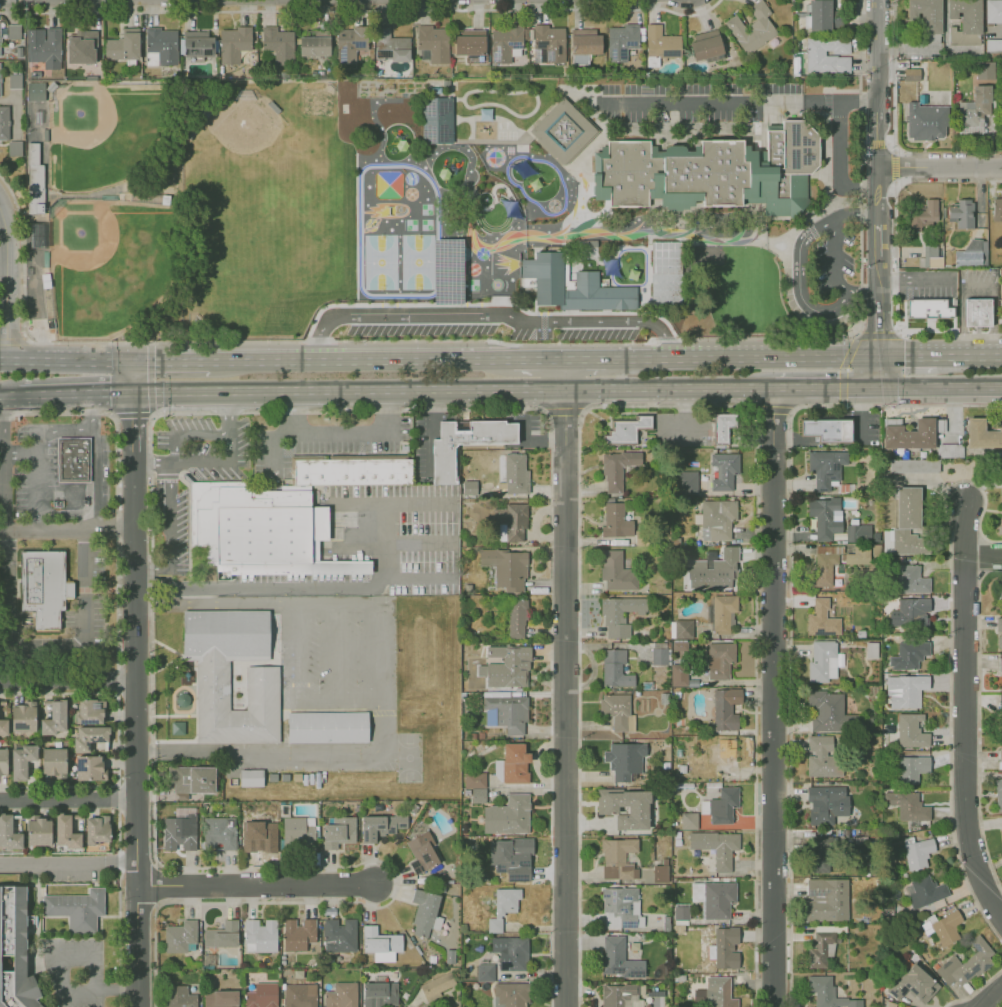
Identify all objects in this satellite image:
road: (375, 10)
building: (993, 12)
building: (821, 16)
building: (965, 21)
building: (925, 22)
building: (753, 28)
building: (15, 32)
building: (1, 41)
building: (624, 41)
building: (548, 43)
building: (235, 44)
building: (255, 44)
building: (314, 44)
building: (351, 44)
building: (434, 44)
building: (508, 44)
building: (279, 45)
building: (585, 45)
building: (661, 45)
building: (124, 46)
building: (198, 46)
building: (391, 46)
building: (472, 46)
building: (994, 46)
building: (45, 47)
building: (81, 47)
building: (161, 47)
building: (709, 47)
building: (0, 55)
building: (822, 56)
building: (984, 73)
building: (285, 74)
building: (648, 74)
building: (176, 75)
building: (185, 75)
building: (911, 75)
road: (895, 76)
building: (91, 78)
building: (1, 80)
building: (15, 82)
building: (445, 84)
building: (35, 91)
road: (701, 103)
road: (838, 103)
road: (876, 107)
building: (978, 113)
building: (436, 119)
building: (929, 122)
building: (4, 123)
park: (106, 131)
building: (563, 131)
road: (860, 145)
building: (14, 148)
road: (895, 161)
road: (839, 164)
road: (939, 167)
building: (34, 171)
building: (710, 171)
building: (997, 209)
building: (961, 213)
building: (924, 215)
road: (3, 217)
road: (878, 233)
building: (972, 253)
building: (706, 254)
building: (930, 257)
park: (112, 262)
road: (833, 262)
road: (4, 265)
road: (799, 271)
building: (667, 274)
road: (878, 274)
road: (916, 278)
road: (7, 281)
building: (548, 282)
road: (976, 288)
building: (1000, 299)
building: (927, 308)
building: (977, 312)
road: (489, 314)
traffic signals: (880, 331)
road: (880, 341)
road: (969, 357)
traffic signals: (904, 358)
road: (908, 358)
road: (742, 359)
road: (539, 360)
road: (586, 360)
road: (359, 361)
road: (65, 362)
traffic signals: (154, 363)
road: (170, 363)
road: (132, 377)
road: (941, 386)
road: (826, 387)
traffic signals: (841, 387)
road: (451, 389)
traffic signals: (110, 392)
road: (75, 393)
road: (9, 394)
road: (229, 412)
road: (685, 416)
traffic signals: (132, 419)
road: (0, 424)
road: (131, 427)
building: (625, 428)
building: (724, 429)
building: (826, 429)
road: (54, 431)
road: (340, 432)
building: (982, 433)
road: (429, 434)
building: (909, 434)
road: (531, 442)
road: (0, 445)
road: (271, 445)
building: (948, 450)
road: (19, 454)
building: (444, 456)
building: (72, 459)
road: (96, 461)
road: (173, 463)
building: (1001, 464)
building: (913, 465)
building: (825, 467)
building: (351, 469)
building: (616, 469)
building: (723, 470)
building: (515, 474)
building: (685, 482)
building: (468, 487)
road: (1, 492)
road: (38, 492)
road: (90, 497)
road: (356, 504)
road: (173, 515)
building: (824, 516)
building: (716, 518)
building: (615, 520)
building: (908, 521)
building: (511, 522)
building: (999, 525)
road: (66, 530)
building: (261, 530)
building: (857, 533)
road: (415, 542)
building: (856, 555)
road: (982, 556)
building: (825, 566)
building: (506, 567)
building: (616, 571)
building: (713, 571)
road: (416, 577)
building: (910, 579)
building: (42, 586)
road: (334, 586)
building: (1000, 592)
road: (216, 603)
building: (722, 612)
building: (910, 612)
building: (618, 614)
building: (516, 618)
building: (821, 619)
building: (680, 629)
building: (998, 632)
road: (45, 643)
building: (911, 654)
building: (658, 655)
building: (719, 659)
building: (822, 661)
building: (1000, 664)
building: (507, 666)
building: (614, 668)
road: (299, 669)
road: (336, 670)
building: (678, 674)
road: (67, 680)
road: (566, 683)
building: (262, 687)
building: (905, 689)
road: (773, 697)
building: (725, 708)
building: (1000, 708)
building: (616, 709)
road: (374, 710)
building: (505, 710)
building: (89, 711)
building: (825, 711)
road: (963, 711)
building: (23, 717)
building: (54, 717)
building: (3, 726)
building: (327, 726)
building: (910, 730)
road: (134, 734)
building: (89, 737)
road: (183, 750)
building: (723, 755)
building: (823, 756)
park: (408, 757)
building: (999, 757)
building: (624, 759)
building: (21, 760)
building: (3, 761)
building: (52, 761)
building: (513, 763)
building: (89, 767)
building: (911, 768)
building: (30, 770)
building: (250, 777)
building: (192, 779)
building: (476, 785)
building: (998, 794)
road: (67, 799)
building: (826, 803)
building: (906, 805)
building: (721, 806)
building: (624, 807)
building: (507, 815)
building: (688, 820)
building: (16, 823)
building: (379, 826)
building: (339, 828)
building: (96, 829)
building: (38, 831)
building: (298, 831)
building: (65, 832)
building: (218, 833)
building: (257, 833)
building: (8, 834)
building: (420, 847)
building: (716, 847)
building: (917, 853)
building: (820, 856)
building: (510, 857)
building: (617, 858)
road: (68, 865)
building: (659, 874)
road: (255, 885)
building: (923, 891)
building: (713, 897)
building: (825, 899)
building: (502, 907)
building: (620, 907)
building: (425, 912)
building: (680, 912)
building: (942, 926)
building: (298, 933)
building: (259, 934)
building: (179, 935)
building: (221, 935)
building: (380, 943)
building: (822, 946)
building: (723, 948)
road: (80, 952)
building: (510, 952)
building: (15, 955)
building: (618, 958)
building: (965, 964)
building: (484, 971)
building: (913, 983)
building: (437, 984)
building: (718, 992)
building: (827, 993)
building: (340, 994)
building: (379, 994)
building: (511, 994)
building: (618, 994)
building: (261, 995)
building: (299, 995)
building: (178, 996)
building: (220, 998)
road: (990, 998)
building: (425, 1006)

